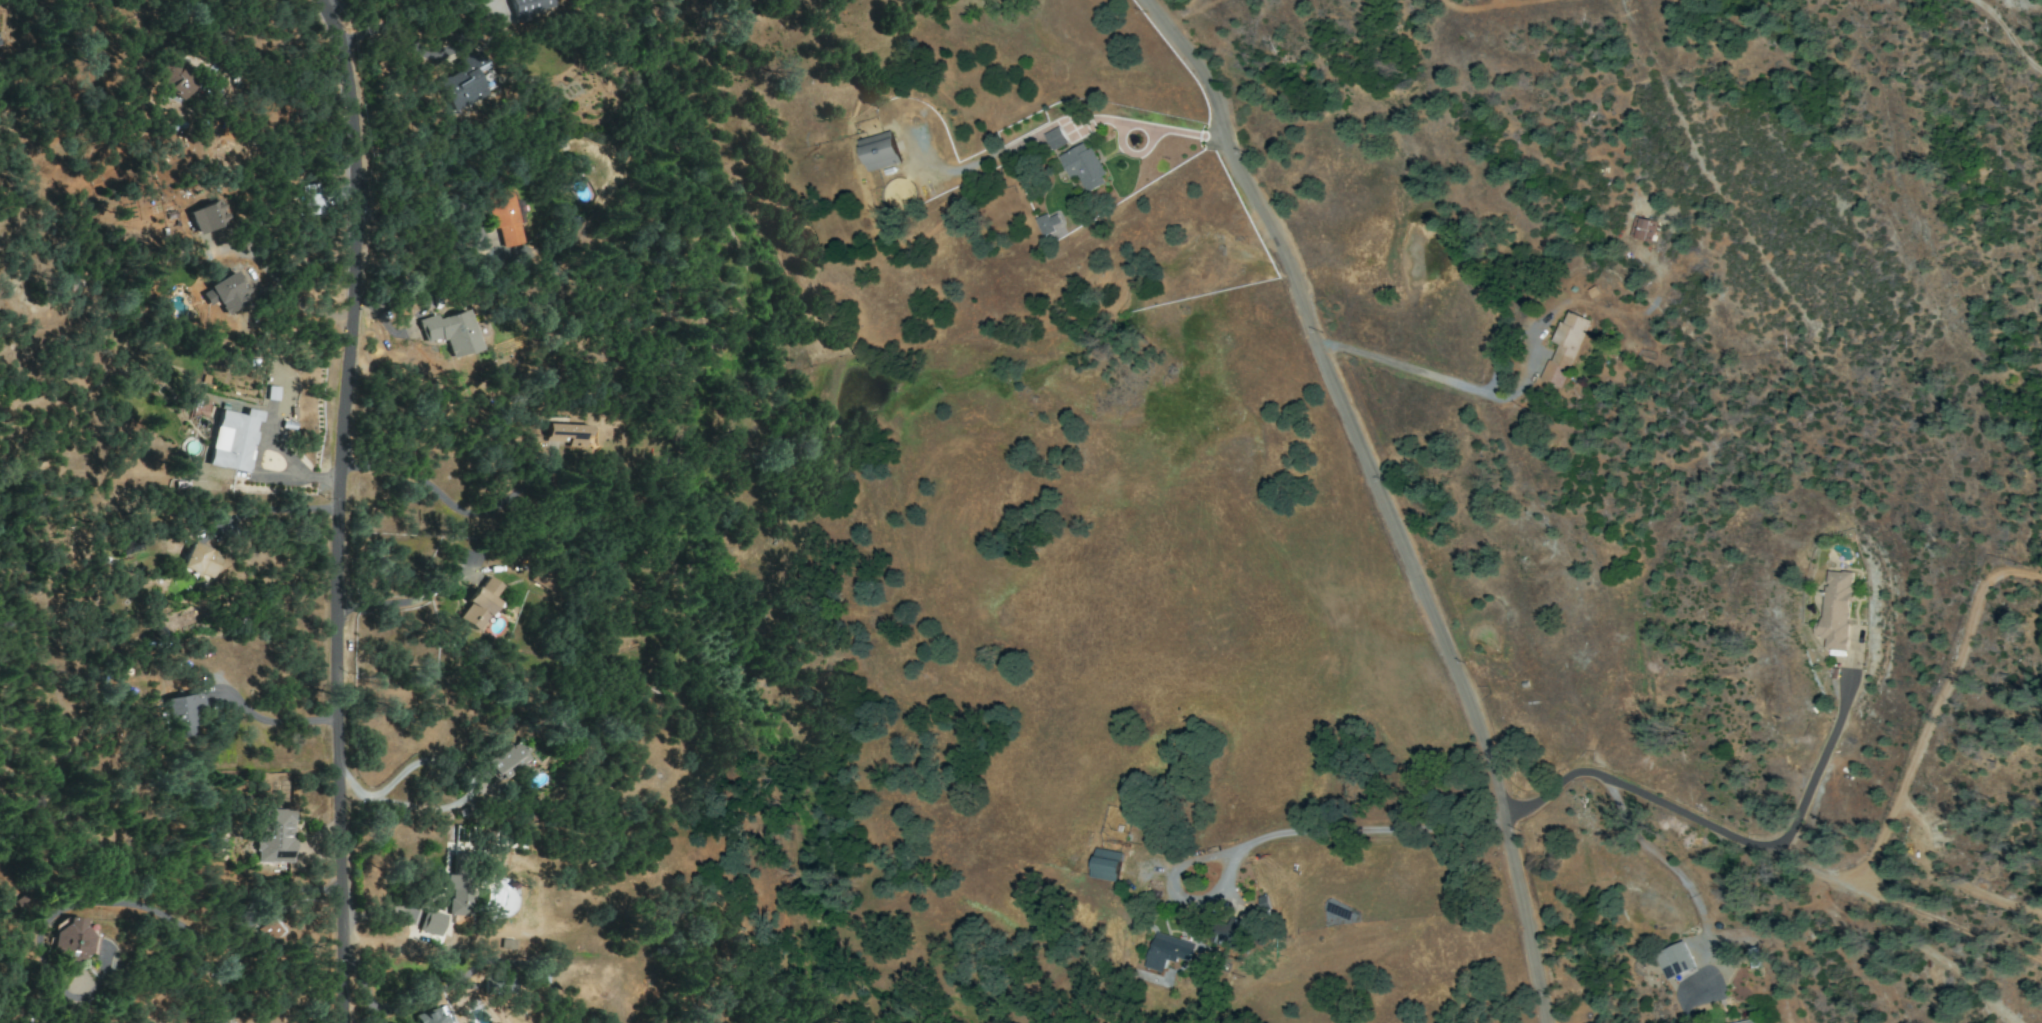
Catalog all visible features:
building: (527, 7)
road: (2005, 27)
building: (171, 79)
building: (466, 84)
road: (1149, 126)
building: (1055, 138)
building: (879, 151)
building: (1082, 166)
building: (312, 199)
building: (503, 215)
building: (206, 217)
building: (1049, 226)
building: (1642, 229)
building: (228, 292)
building: (451, 332)
building: (1564, 348)
road: (1405, 369)
building: (567, 435)
building: (232, 439)
road: (252, 480)
road: (1378, 496)
road: (444, 499)
road: (340, 507)
road: (278, 517)
building: (200, 560)
road: (399, 602)
building: (479, 604)
building: (1836, 609)
building: (182, 713)
road: (272, 726)
building: (504, 761)
road: (463, 799)
road: (1709, 823)
road: (1280, 833)
building: (274, 835)
building: (1105, 864)
building: (458, 893)
building: (431, 922)
building: (269, 930)
building: (70, 939)
road: (227, 942)
building: (1167, 951)
building: (1674, 960)
building: (428, 1017)
building: (1744, 1021)

